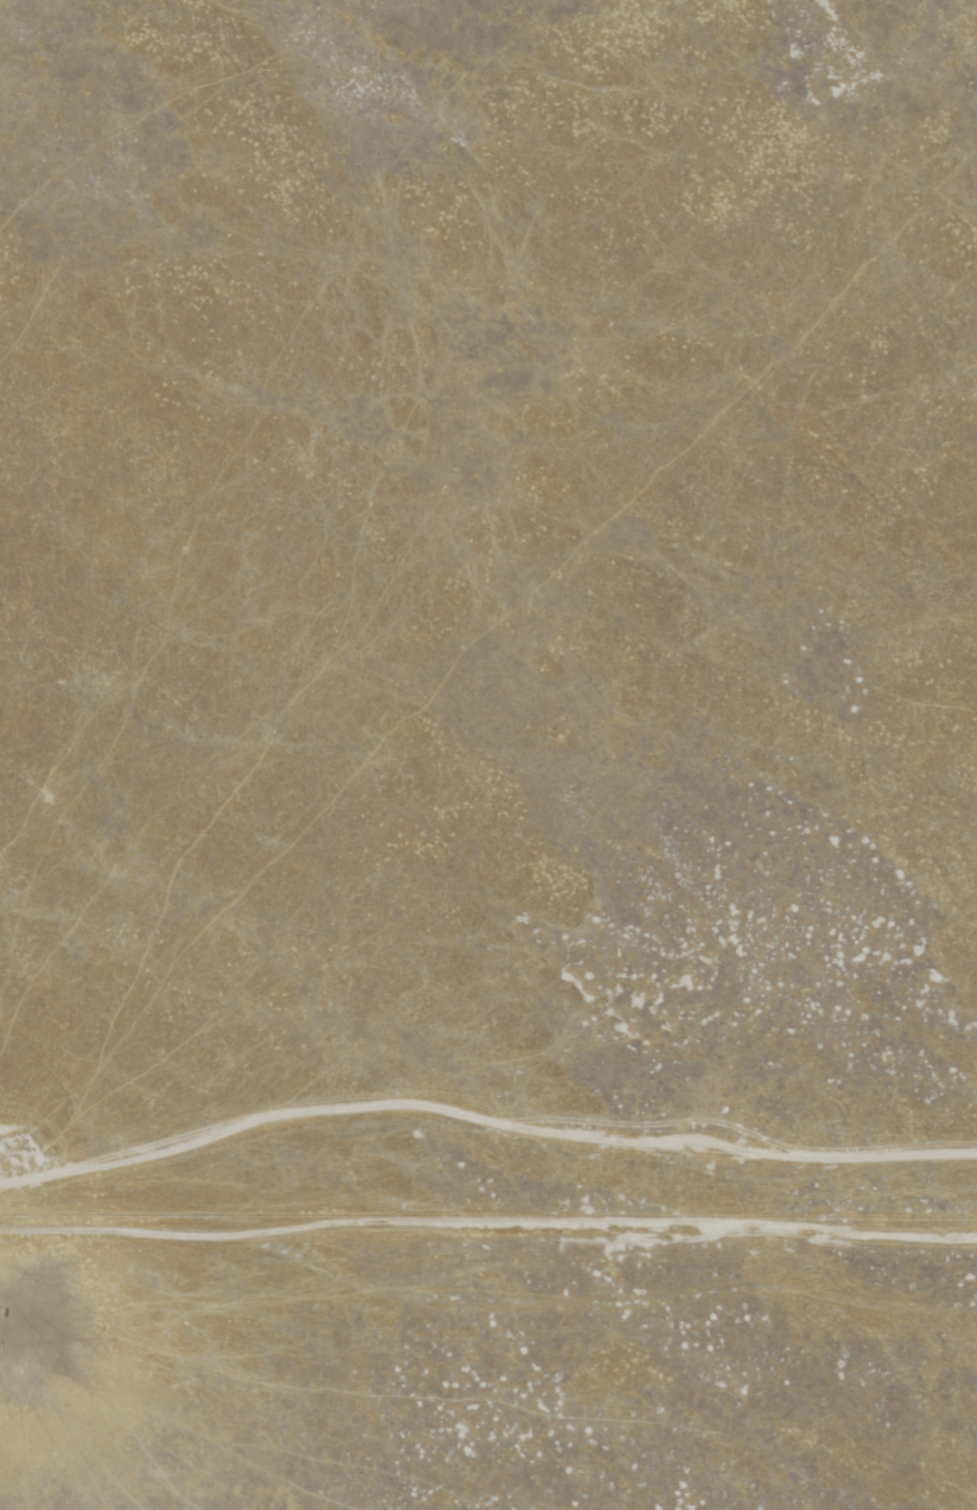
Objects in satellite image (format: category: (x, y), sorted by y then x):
road: (485, 1125)

